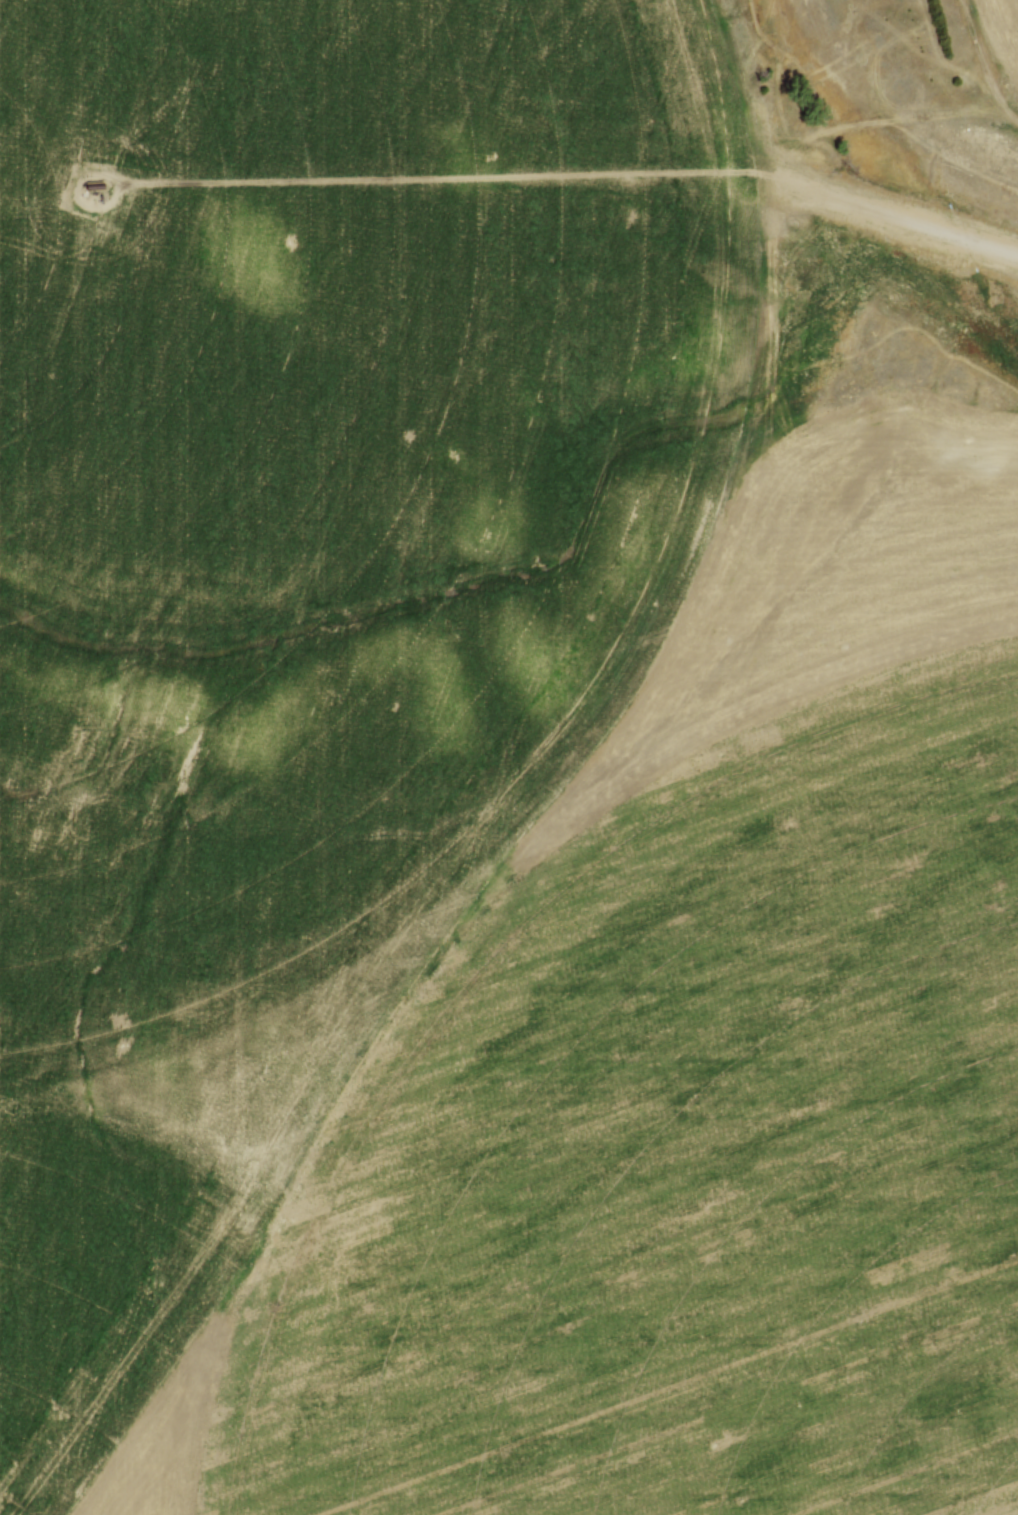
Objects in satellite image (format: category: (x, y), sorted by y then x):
crop: (1003, 37)
crop: (480, 799)

